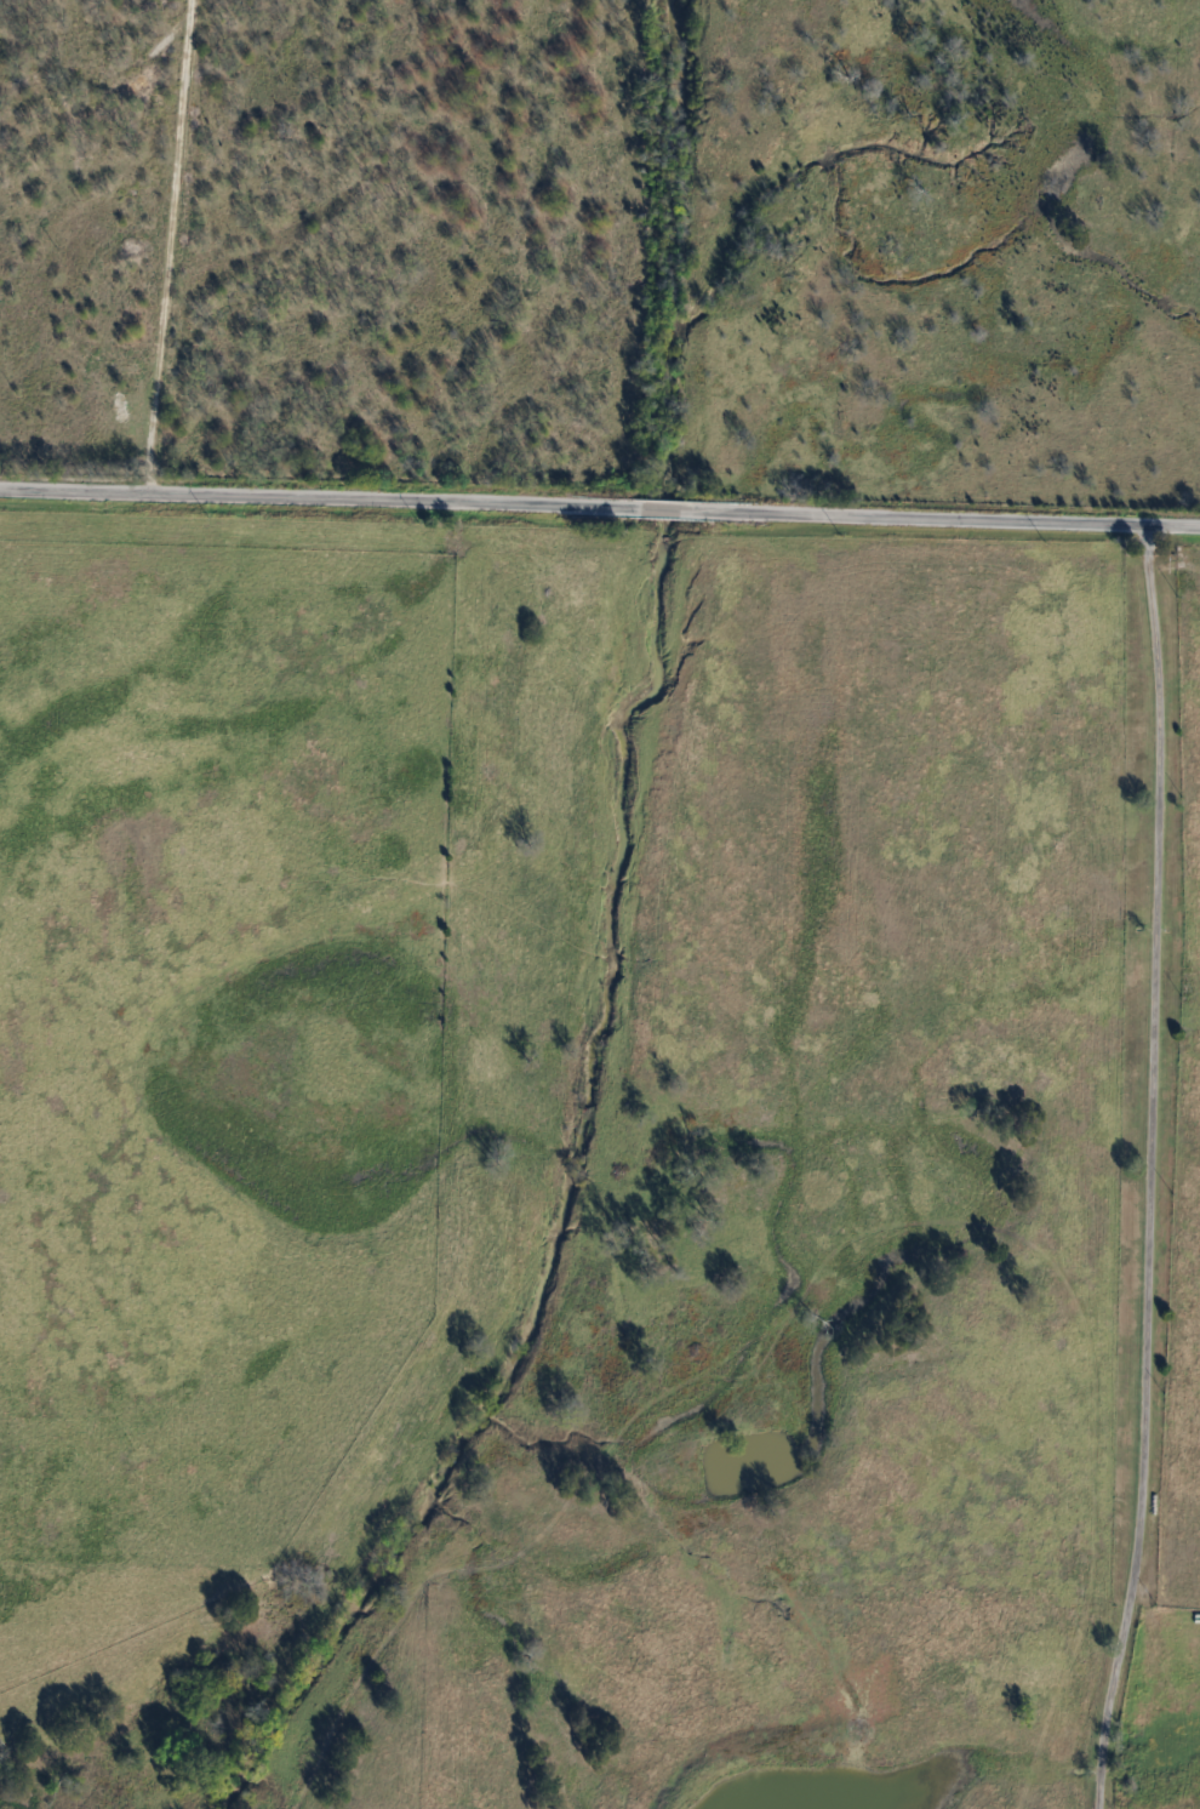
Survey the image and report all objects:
road: (170, 249)
road: (75, 468)
road: (599, 514)
road: (1143, 1171)

